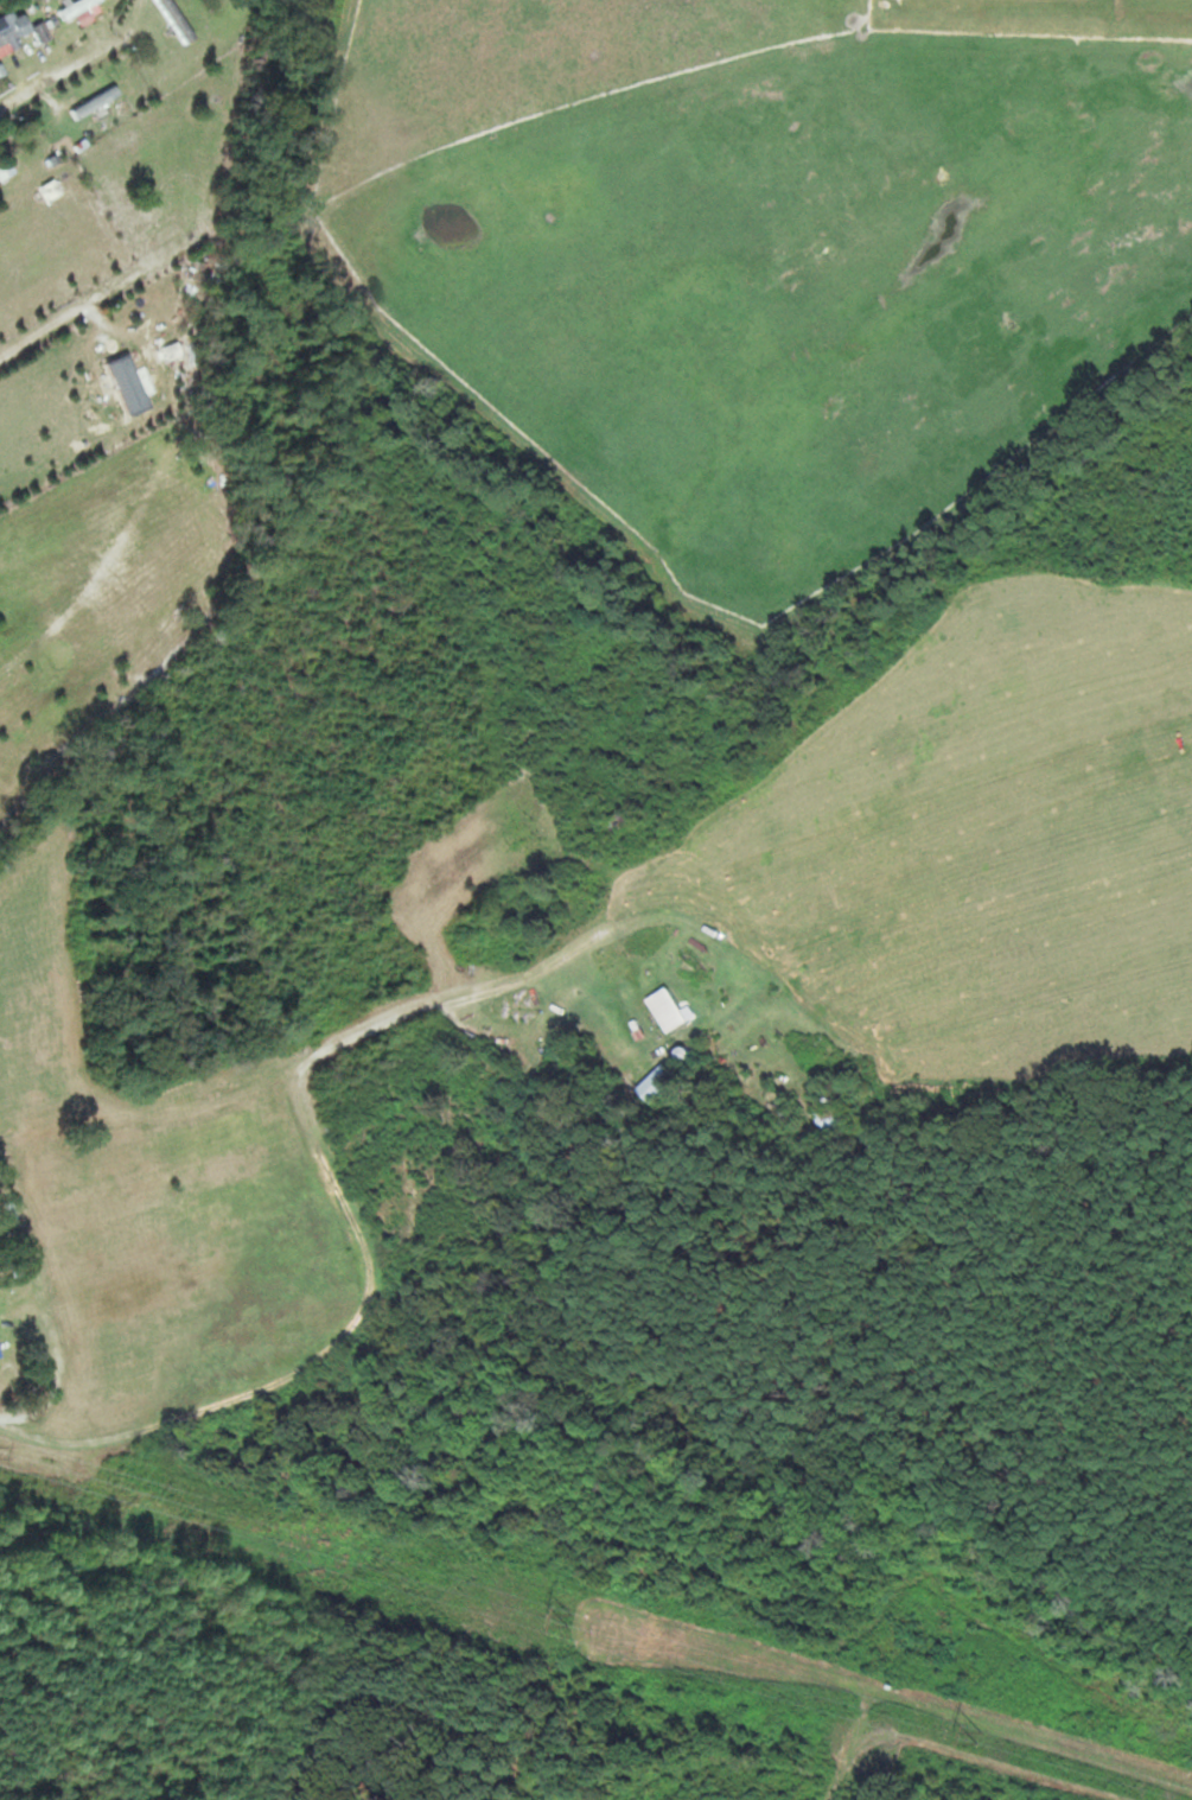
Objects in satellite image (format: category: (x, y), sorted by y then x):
building: (178, 19)
building: (43, 28)
building: (8, 31)
road: (50, 81)
building: (7, 171)
road: (43, 329)
building: (669, 1007)
building: (684, 1057)
building: (659, 1082)
building: (834, 1118)
power tower: (573, 1618)
power tower: (981, 1736)

